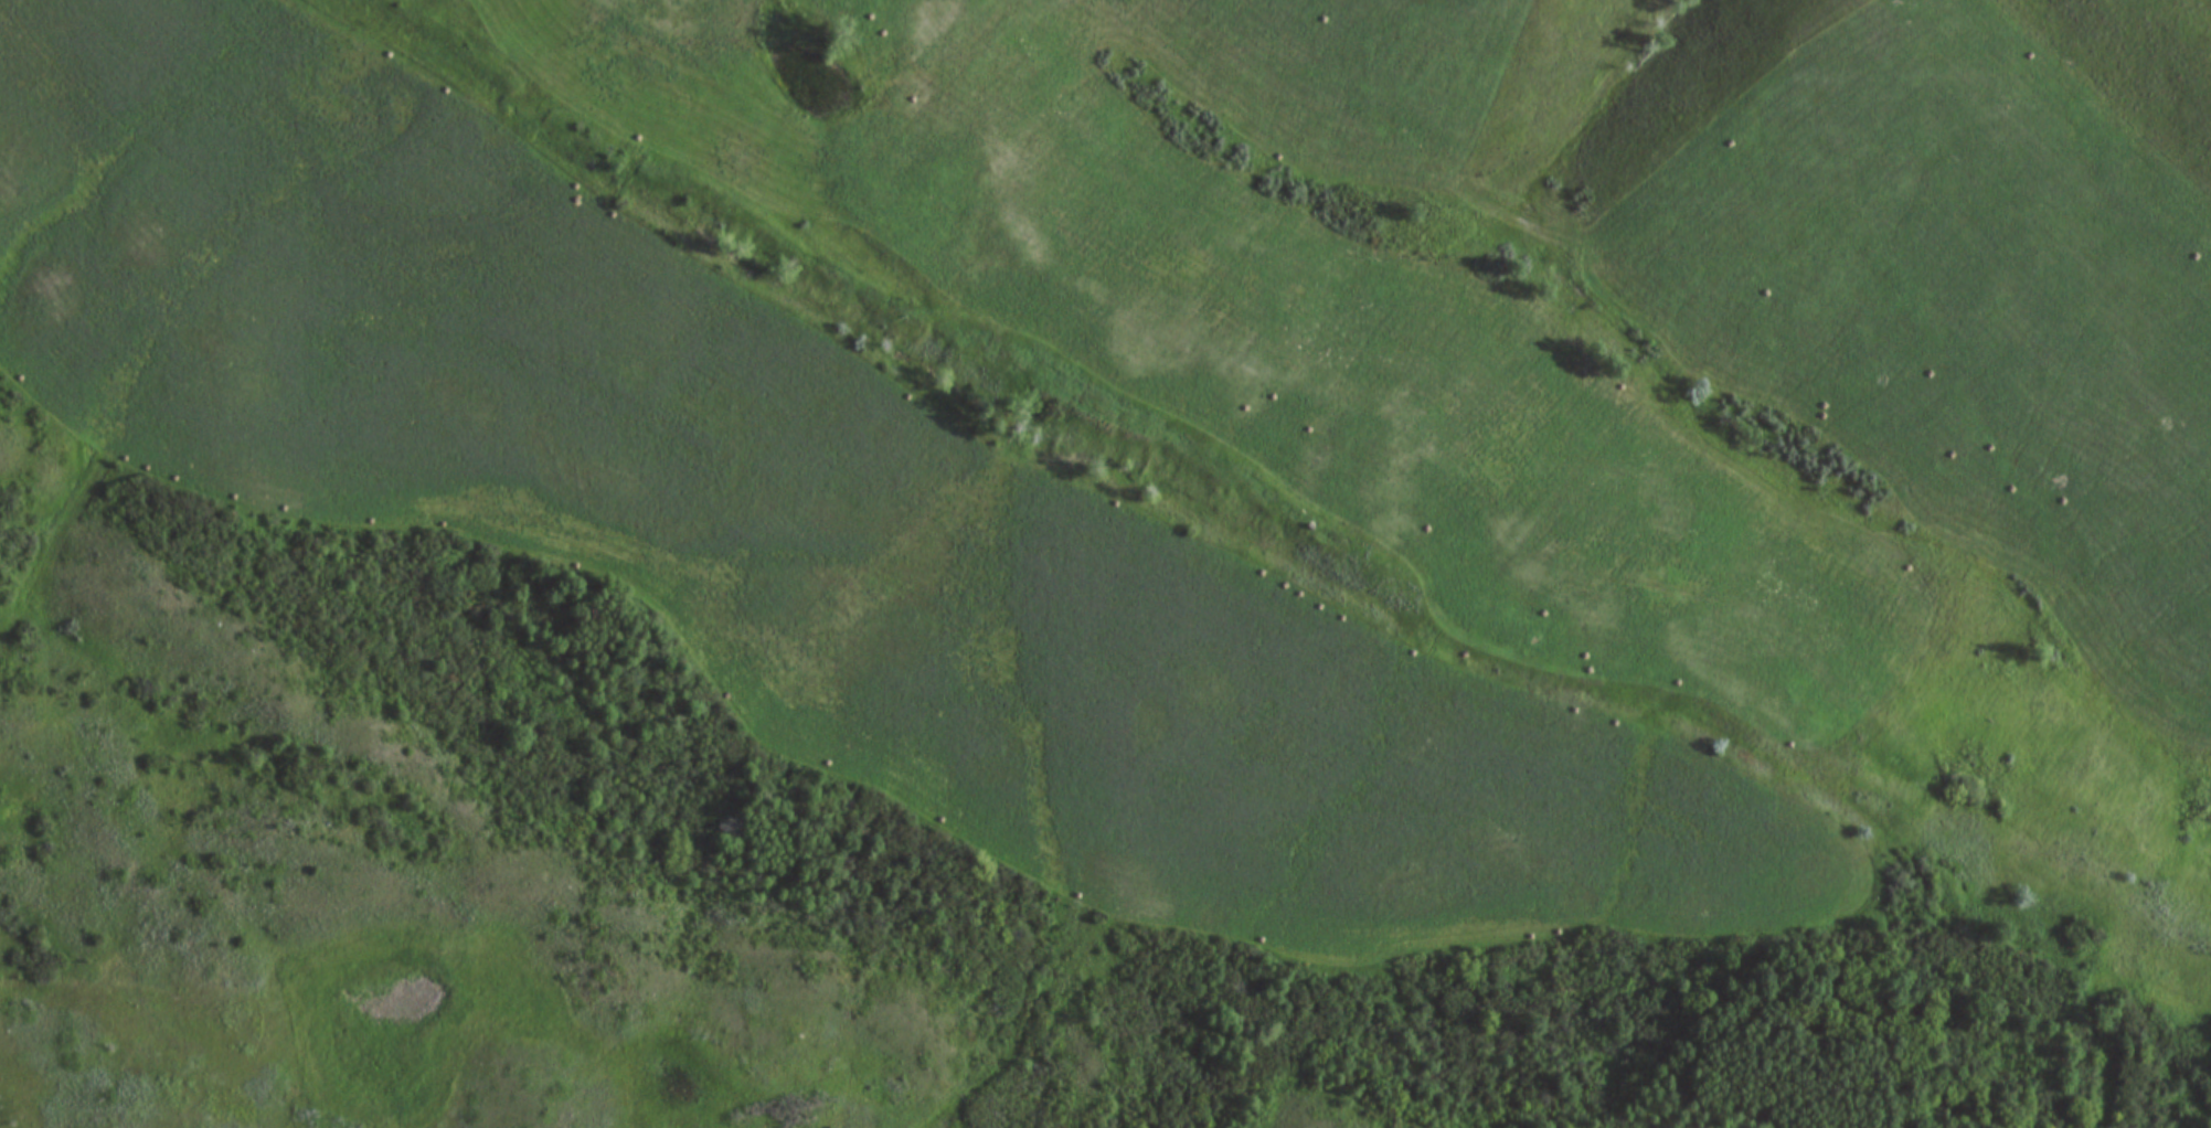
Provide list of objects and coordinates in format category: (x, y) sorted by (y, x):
road: (1631, 50)
quarry: (2124, 74)

